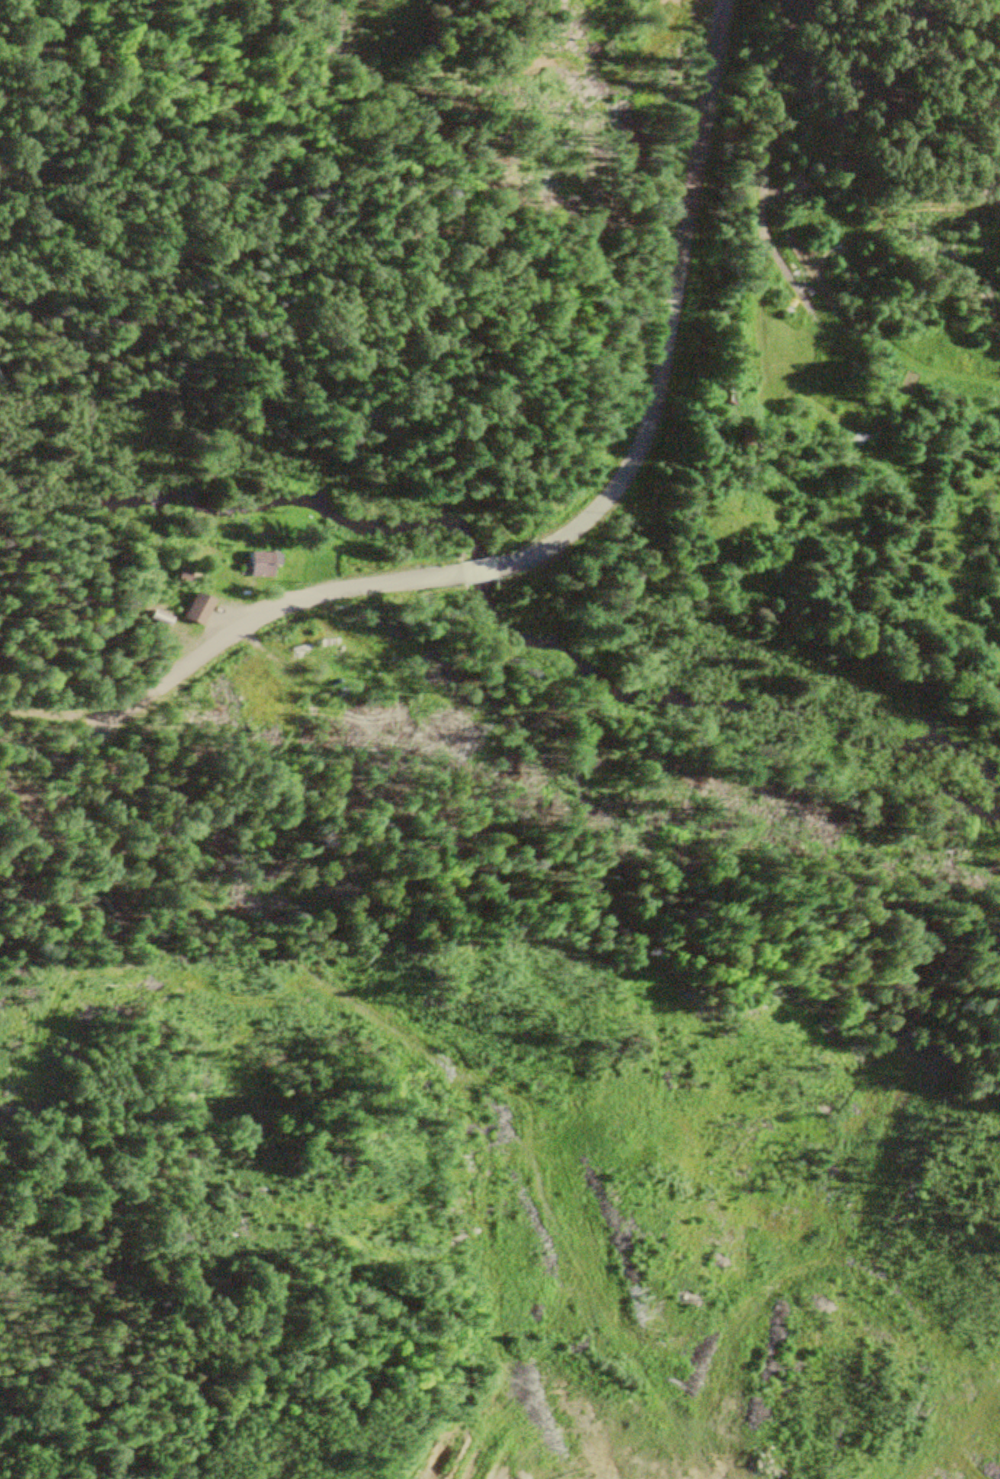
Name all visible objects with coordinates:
road: (849, 152)
road: (548, 532)
building: (251, 566)
building: (174, 618)
road: (5, 711)
road: (415, 1057)

